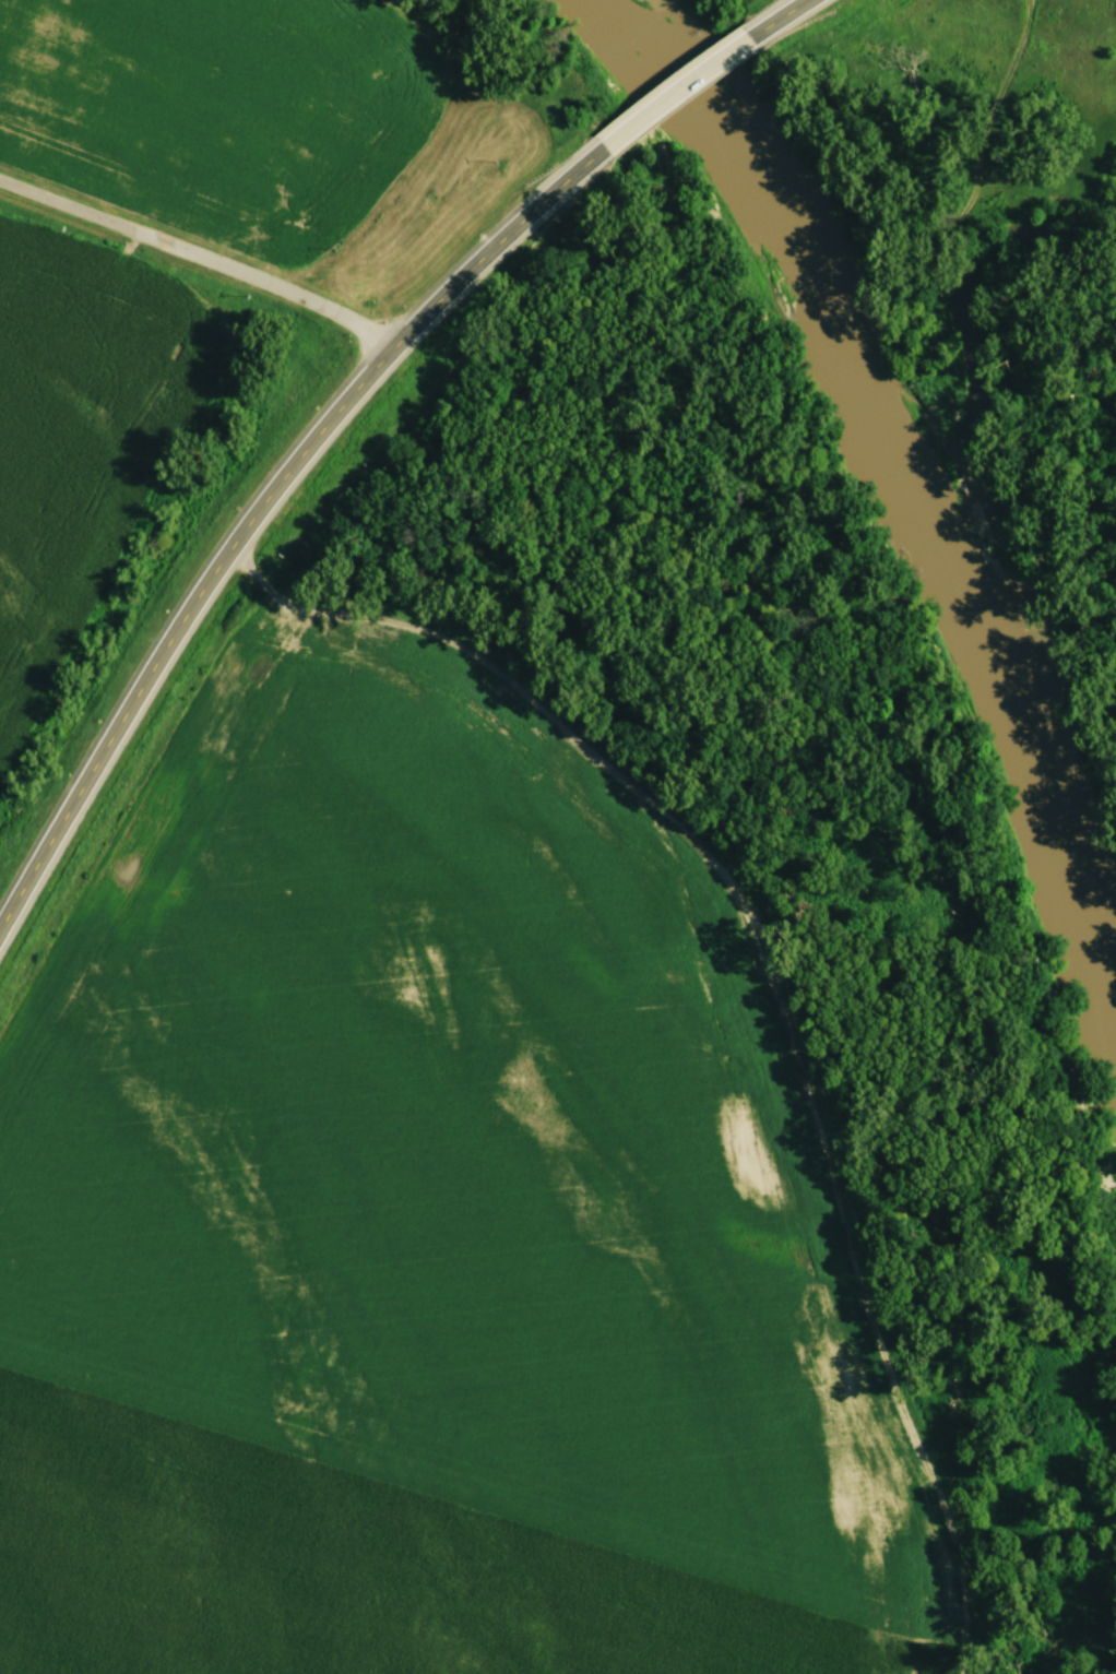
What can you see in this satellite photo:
road: (779, 15)
road: (680, 85)
road: (202, 257)
river: (906, 420)
road: (262, 509)

